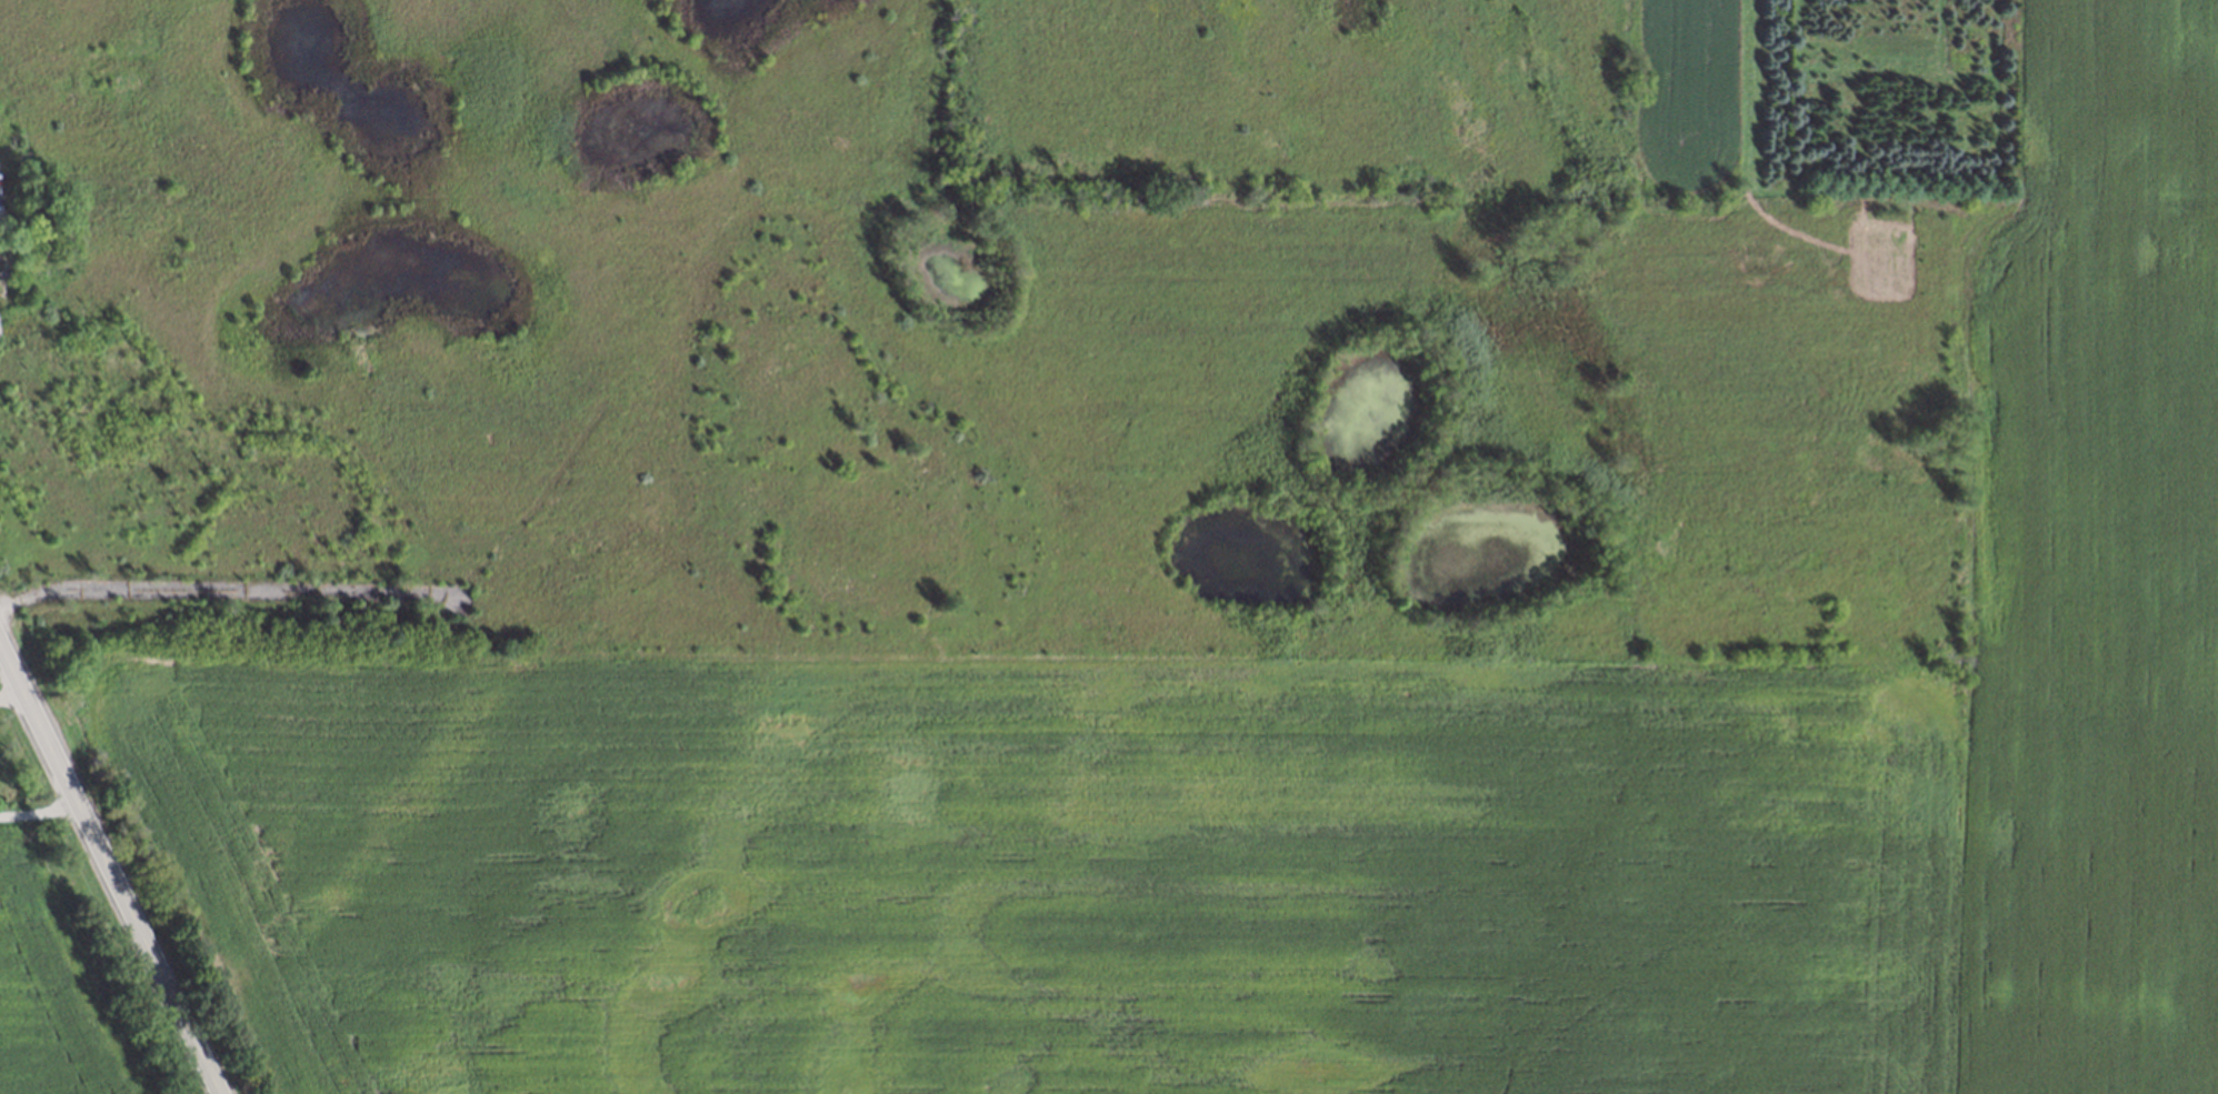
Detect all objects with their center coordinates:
road: (221, 590)
road: (12, 695)
road: (38, 810)
road: (111, 869)

